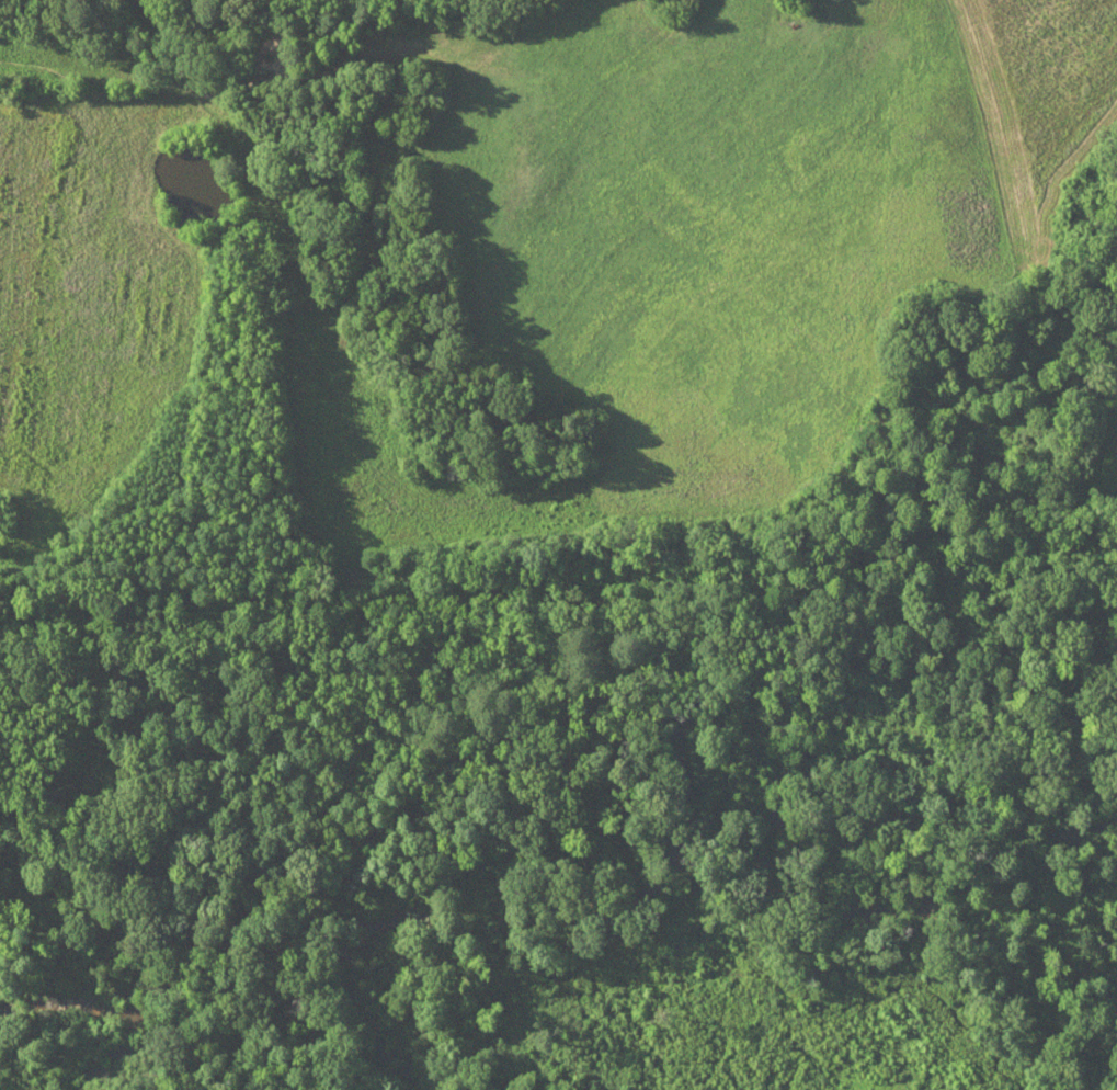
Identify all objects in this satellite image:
railway: (558, 583)

